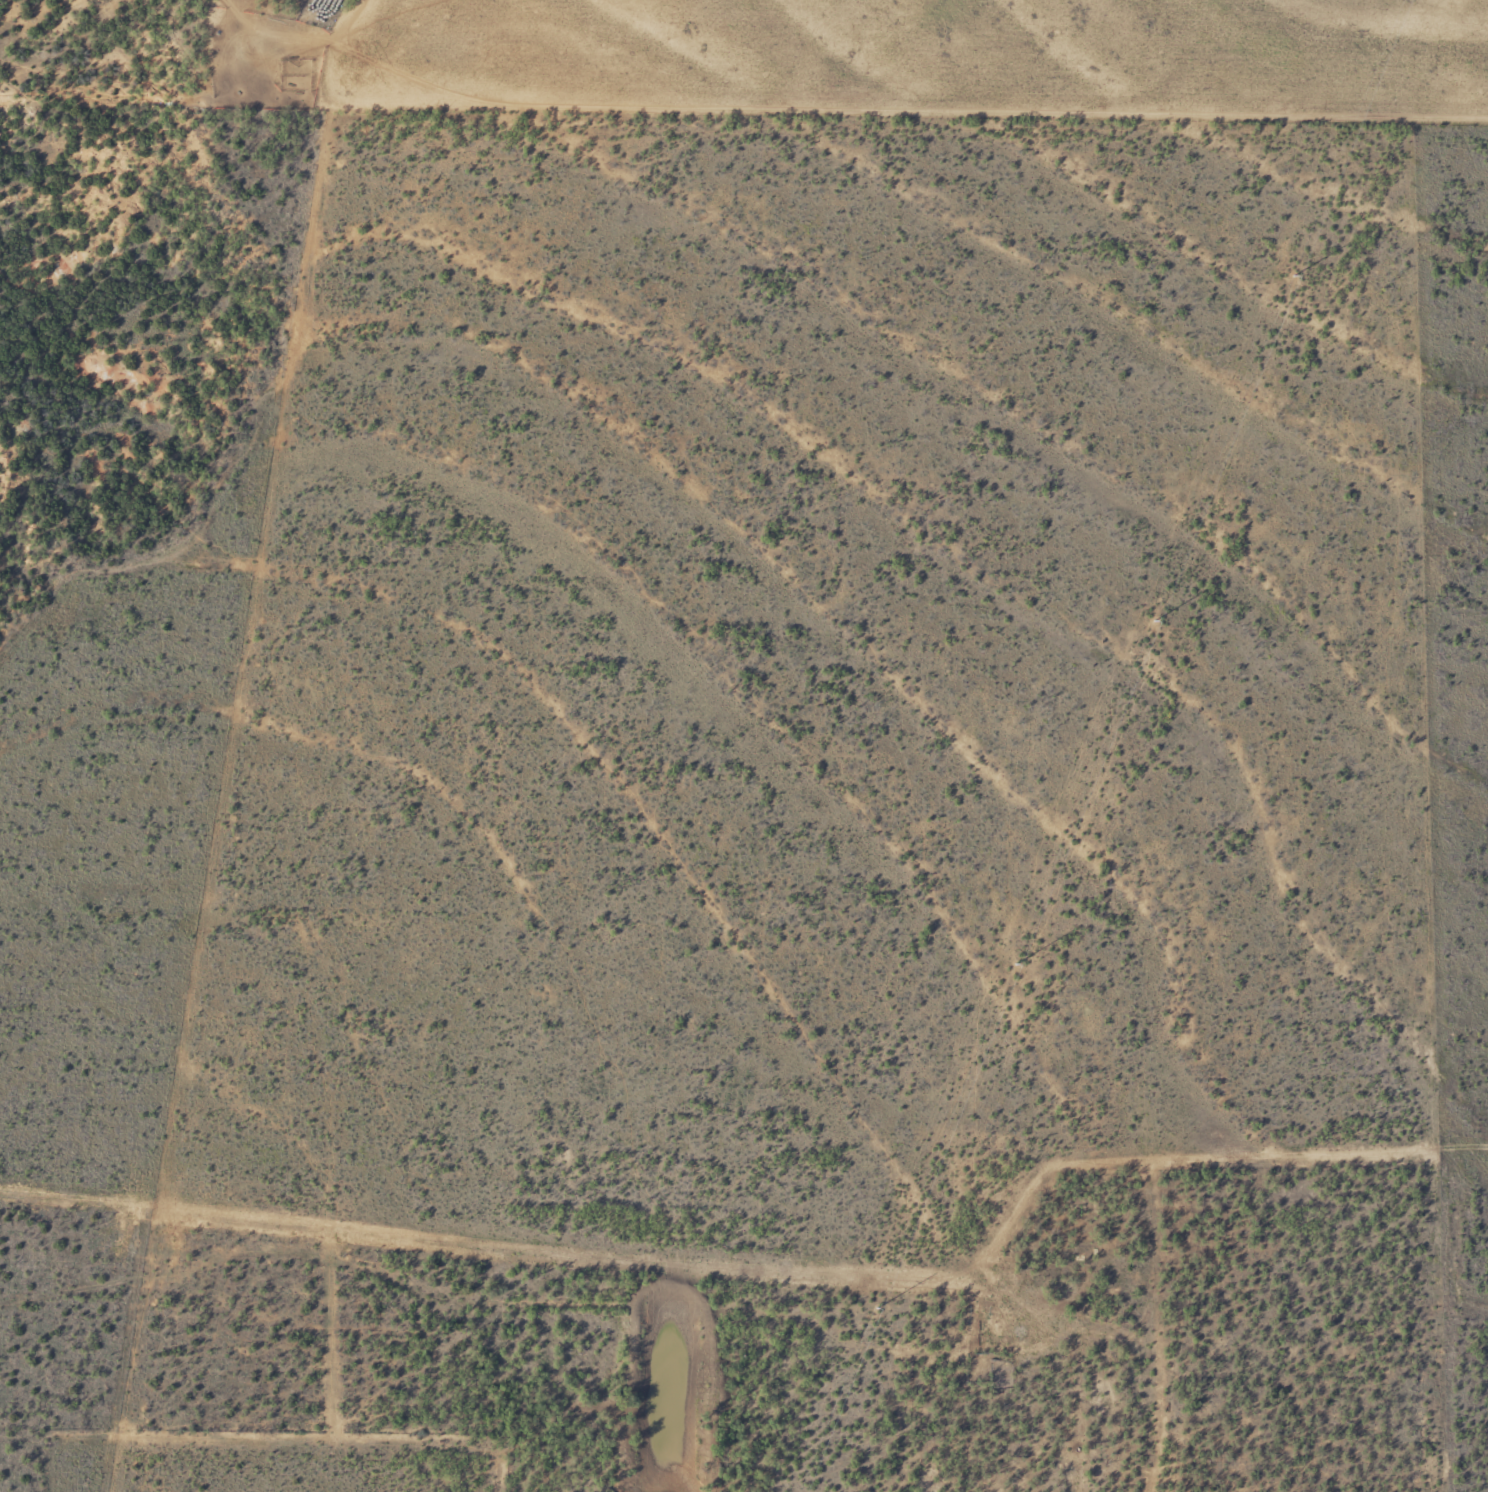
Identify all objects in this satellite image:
power tower: (1292, 282)
power tower: (1151, 625)
power tower: (1012, 970)
road: (625, 1306)
power tower: (874, 1313)

